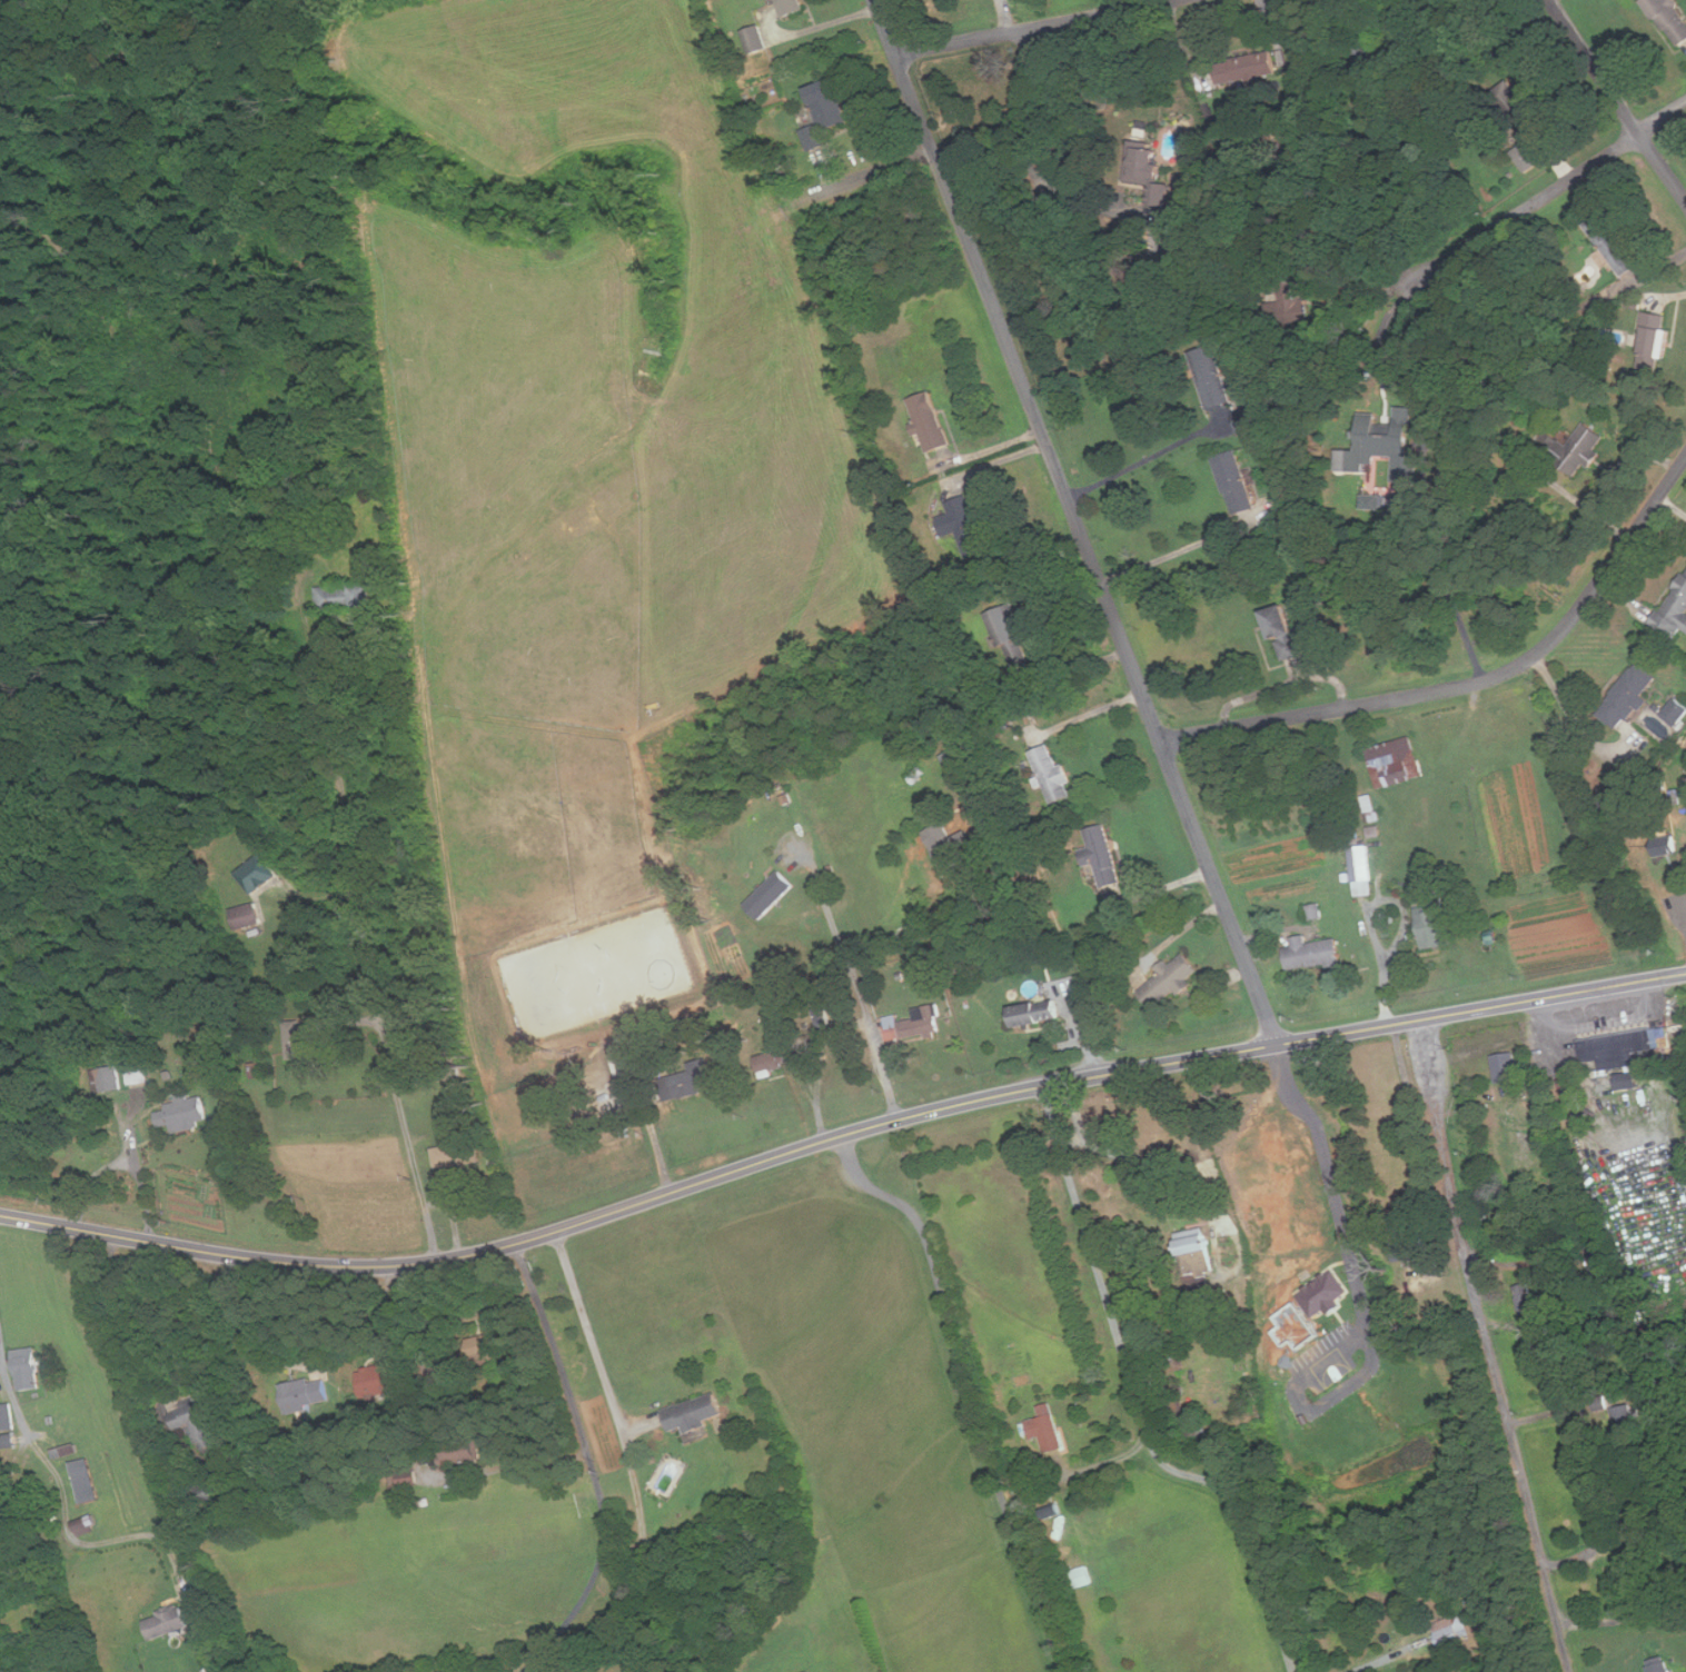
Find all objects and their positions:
building: (790, 7)
building: (1669, 20)
road: (1031, 27)
building: (756, 39)
building: (1381, 51)
building: (1246, 68)
road: (1615, 100)
building: (1518, 109)
building: (825, 113)
building: (1529, 159)
road: (1021, 162)
building: (1147, 169)
road: (826, 193)
road: (1551, 195)
building: (1613, 243)
road: (1648, 270)
building: (1656, 336)
building: (1212, 377)
building: (1250, 419)
building: (930, 421)
building: (1387, 447)
building: (1574, 447)
road: (1146, 459)
building: (1234, 482)
road: (1077, 521)
building: (964, 525)
road: (1168, 556)
road: (1451, 591)
building: (345, 595)
building: (1674, 611)
building: (1283, 633)
building: (1011, 635)
road: (1474, 685)
building: (1629, 696)
road: (1090, 713)
building: (1677, 713)
road: (1574, 721)
building: (953, 760)
building: (1395, 763)
building: (1053, 774)
building: (1615, 808)
building: (975, 826)
building: (951, 844)
building: (1666, 846)
building: (1102, 856)
building: (1361, 870)
building: (772, 895)
building: (1315, 910)
building: (247, 916)
road: (932, 920)
building: (1436, 924)
building: (1312, 953)
building: (1169, 981)
road: (860, 991)
building: (1037, 1013)
building: (920, 1024)
building: (892, 1027)
building: (303, 1043)
building: (1618, 1049)
road: (381, 1056)
building: (771, 1062)
building: (629, 1063)
building: (1506, 1067)
building: (137, 1074)
building: (111, 1078)
building: (1630, 1081)
building: (690, 1082)
building: (185, 1113)
road: (839, 1135)
building: (457, 1151)
road: (128, 1152)
road: (1131, 1156)
building: (1199, 1246)
building: (1325, 1293)
road: (1359, 1293)
road: (251, 1315)
road: (127, 1316)
road: (555, 1346)
building: (487, 1347)
road: (1488, 1347)
building: (28, 1369)
building: (381, 1376)
road: (965, 1391)
building: (305, 1393)
road: (1137, 1400)
building: (693, 1413)
building: (198, 1422)
building: (1043, 1422)
building: (8, 1426)
road: (631, 1456)
road: (508, 1464)
building: (88, 1482)
road: (67, 1497)
road: (596, 1572)
building: (167, 1623)
building: (1451, 1631)
road: (1392, 1658)
building: (1662, 1664)

